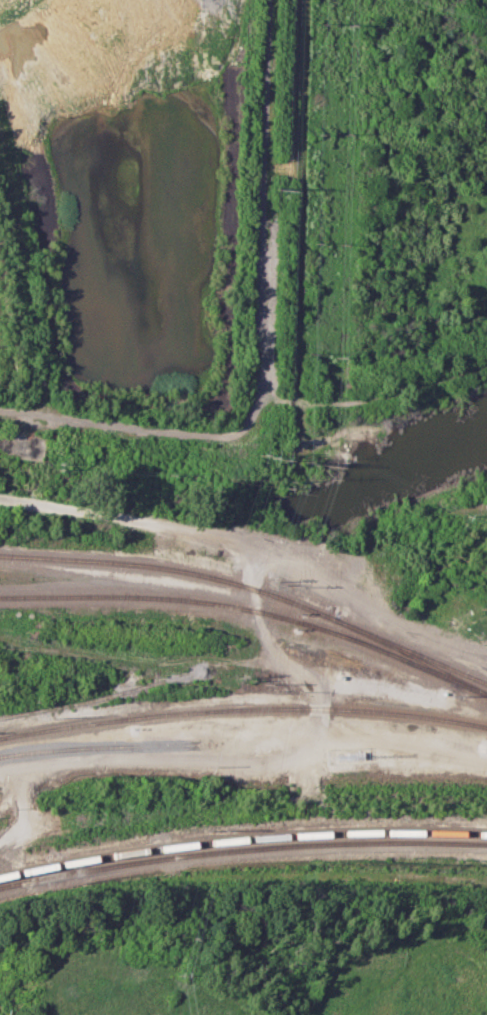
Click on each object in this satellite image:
power tower: (280, 187)
road: (261, 341)
road: (375, 396)
power tower: (270, 451)
road: (484, 508)
road: (166, 528)
road: (408, 528)
railway: (171, 569)
railway: (250, 609)
railway: (412, 650)
railway: (411, 656)
railway: (97, 699)
railway: (243, 708)
railway: (103, 746)
railway: (242, 838)
railway: (242, 849)

